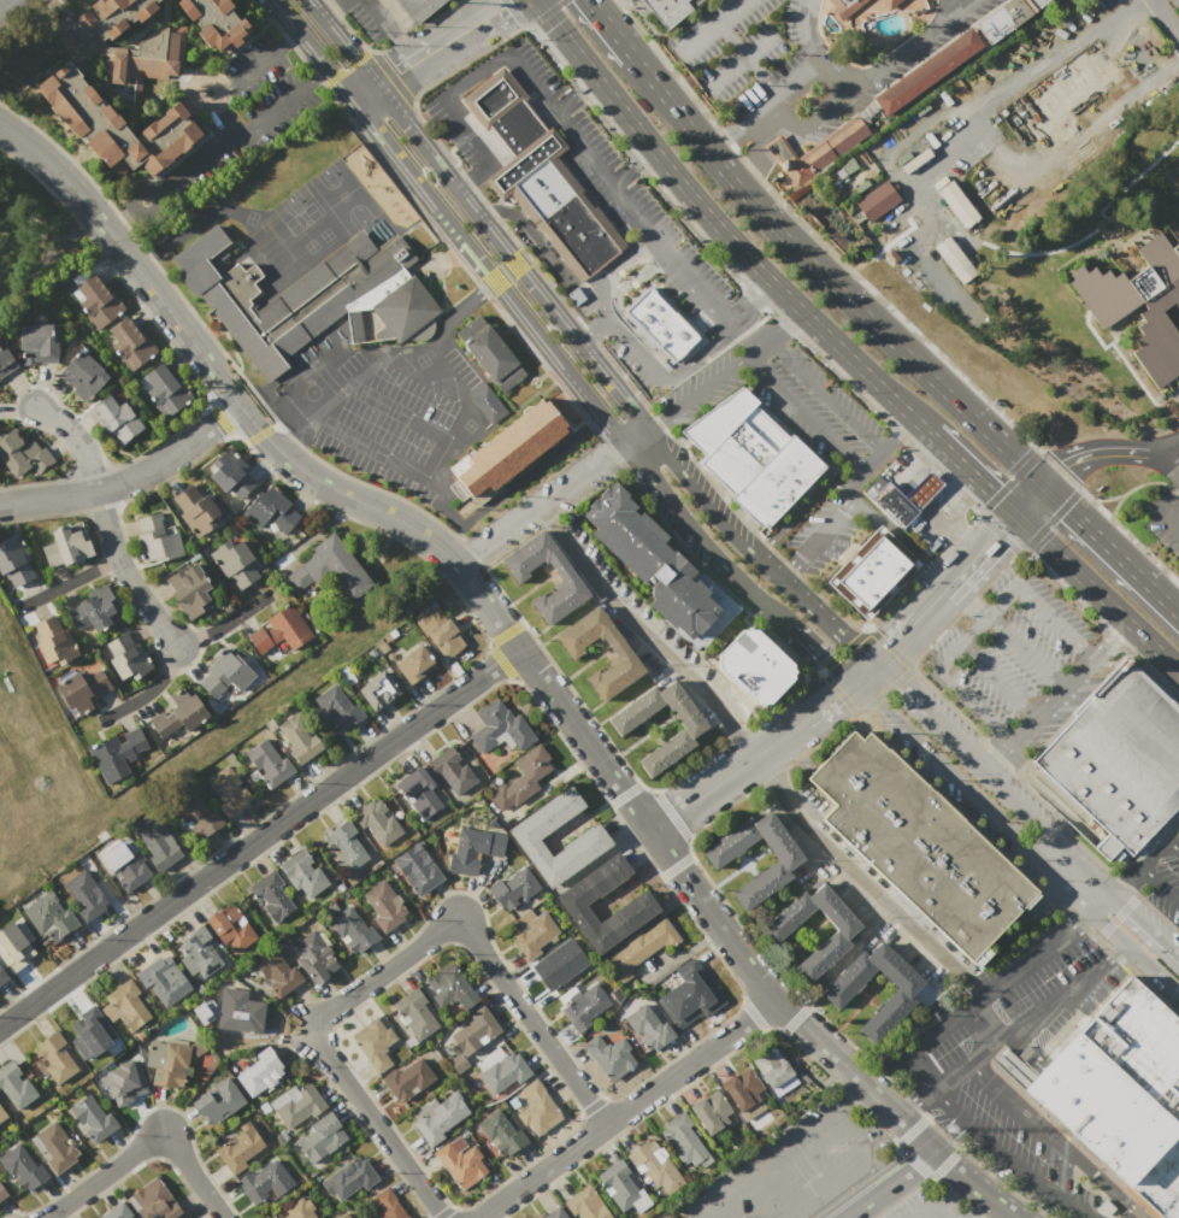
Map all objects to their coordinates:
road: (4, 2)
building: (888, 4)
road: (951, 5)
building: (845, 6)
building: (415, 8)
road: (479, 10)
road: (502, 10)
building: (666, 11)
road: (1166, 17)
building: (214, 23)
road: (708, 25)
road: (607, 30)
road: (807, 33)
road: (289, 40)
road: (566, 40)
road: (747, 58)
road: (739, 59)
road: (420, 61)
road: (879, 67)
road: (252, 69)
road: (319, 77)
road: (833, 78)
road: (535, 83)
building: (67, 93)
building: (892, 95)
road: (577, 96)
road: (776, 98)
road: (198, 108)
road: (362, 111)
road: (226, 122)
road: (229, 141)
road: (959, 141)
road: (718, 142)
building: (973, 155)
road: (632, 166)
road: (473, 176)
building: (541, 177)
building: (876, 200)
building: (956, 204)
building: (1178, 214)
road: (191, 224)
park: (34, 241)
road: (472, 252)
road: (745, 257)
building: (953, 259)
road: (829, 281)
road: (696, 283)
road: (538, 292)
building: (308, 298)
building: (95, 299)
road: (748, 299)
road: (462, 304)
building: (1106, 311)
building: (661, 325)
road: (591, 333)
road: (772, 333)
building: (131, 343)
building: (36, 345)
road: (626, 347)
building: (490, 353)
building: (5, 361)
building: (82, 375)
road: (701, 384)
building: (165, 389)
road: (820, 393)
building: (485, 401)
road: (326, 408)
road: (402, 411)
road: (472, 412)
road: (801, 412)
road: (650, 417)
building: (116, 419)
road: (76, 440)
road: (1161, 447)
road: (874, 448)
road: (1133, 451)
building: (22, 453)
building: (506, 453)
building: (751, 455)
road: (633, 458)
road: (1078, 458)
road: (1163, 458)
road: (962, 466)
road: (1062, 470)
building: (231, 473)
road: (130, 478)
traffic signals: (1044, 487)
road: (512, 490)
road: (549, 493)
building: (900, 498)
road: (804, 499)
road: (1030, 501)
building: (195, 510)
road: (1166, 510)
building: (271, 512)
traffic signals: (1015, 516)
road: (890, 526)
road: (826, 530)
road: (996, 532)
building: (157, 540)
building: (66, 546)
road: (761, 546)
road: (983, 549)
road: (1112, 549)
building: (14, 560)
building: (235, 563)
building: (660, 567)
building: (331, 569)
road: (785, 570)
building: (871, 572)
road: (125, 573)
road: (941, 575)
building: (567, 579)
road: (72, 581)
building: (191, 592)
road: (1096, 595)
road: (935, 601)
building: (93, 607)
road: (825, 622)
road: (223, 624)
road: (977, 628)
building: (281, 629)
road: (641, 634)
building: (446, 637)
road: (1107, 639)
building: (53, 641)
road: (895, 641)
road: (488, 646)
building: (574, 648)
road: (1024, 651)
road: (523, 653)
road: (818, 655)
building: (124, 658)
parking lot: (1019, 664)
building: (413, 665)
building: (754, 669)
road: (861, 676)
road: (904, 676)
building: (223, 677)
road: (996, 681)
building: (82, 689)
road: (147, 690)
building: (379, 692)
road: (903, 694)
road: (1050, 696)
road: (580, 702)
road: (827, 702)
building: (338, 708)
building: (178, 719)
building: (501, 729)
building: (688, 732)
building: (299, 737)
road: (732, 737)
road: (561, 741)
road: (912, 745)
road: (956, 746)
building: (119, 754)
road: (996, 754)
building: (269, 763)
building: (1113, 764)
building: (450, 772)
road: (729, 775)
building: (529, 776)
road: (644, 787)
building: (228, 792)
building: (419, 794)
road: (624, 794)
building: (200, 814)
building: (377, 823)
road: (246, 828)
road: (1048, 832)
building: (526, 836)
road: (259, 837)
road: (1174, 842)
building: (157, 845)
building: (346, 847)
building: (919, 847)
building: (472, 848)
road: (255, 857)
road: (1033, 859)
road: (1146, 861)
building: (126, 865)
building: (782, 866)
building: (417, 870)
parking lot: (1160, 870)
building: (302, 875)
road: (860, 882)
road: (1160, 884)
building: (512, 889)
building: (84, 894)
building: (272, 898)
building: (574, 901)
road: (1103, 905)
building: (383, 906)
building: (48, 917)
road: (1116, 918)
road: (1145, 925)
building: (230, 929)
building: (353, 930)
building: (534, 936)
building: (841, 936)
building: (13, 948)
building: (639, 948)
building: (199, 955)
road: (1136, 955)
building: (316, 959)
building: (556, 965)
road: (390, 966)
building: (275, 971)
building: (2, 977)
building: (159, 984)
building: (449, 992)
building: (838, 994)
road: (981, 994)
building: (692, 996)
building: (128, 1006)
building: (585, 1010)
building: (414, 1014)
parking lot: (998, 1014)
building: (240, 1016)
road: (1028, 1016)
road: (983, 1023)
building: (647, 1026)
building: (473, 1030)
building: (89, 1032)
building: (377, 1045)
building: (608, 1053)
building: (53, 1058)
parking lot: (932, 1064)
building: (165, 1065)
building: (772, 1066)
building: (503, 1073)
building: (261, 1075)
building: (407, 1079)
building: (123, 1082)
building: (13, 1087)
building: (743, 1089)
building: (1120, 1098)
road: (916, 1101)
building: (217, 1102)
building: (295, 1105)
building: (534, 1108)
road: (627, 1108)
building: (711, 1112)
building: (2, 1117)
building: (441, 1118)
building: (92, 1119)
road: (850, 1128)
power tower: (949, 1128)
building: (500, 1132)
building: (319, 1137)
building: (684, 1138)
road: (1054, 1140)
road: (146, 1143)
building: (53, 1148)
building: (238, 1149)
road: (765, 1158)
building: (461, 1161)
road: (1008, 1161)
parking lot: (791, 1165)
building: (654, 1167)
building: (20, 1169)
building: (350, 1178)
building: (265, 1183)
road: (820, 1183)
road: (888, 1184)
building: (621, 1188)
road: (947, 1191)
building: (1, 1193)
building: (153, 1200)
building: (584, 1205)
parking lot: (926, 1205)
building: (382, 1206)
building: (296, 1210)
building: (116, 1212)
road: (924, 1212)
road: (939, 1212)
building: (554, 1213)
road: (700, 1213)
building: (343, 1216)
building: (352, 1217)
building: (664, 1217)
building: (667, 1217)

